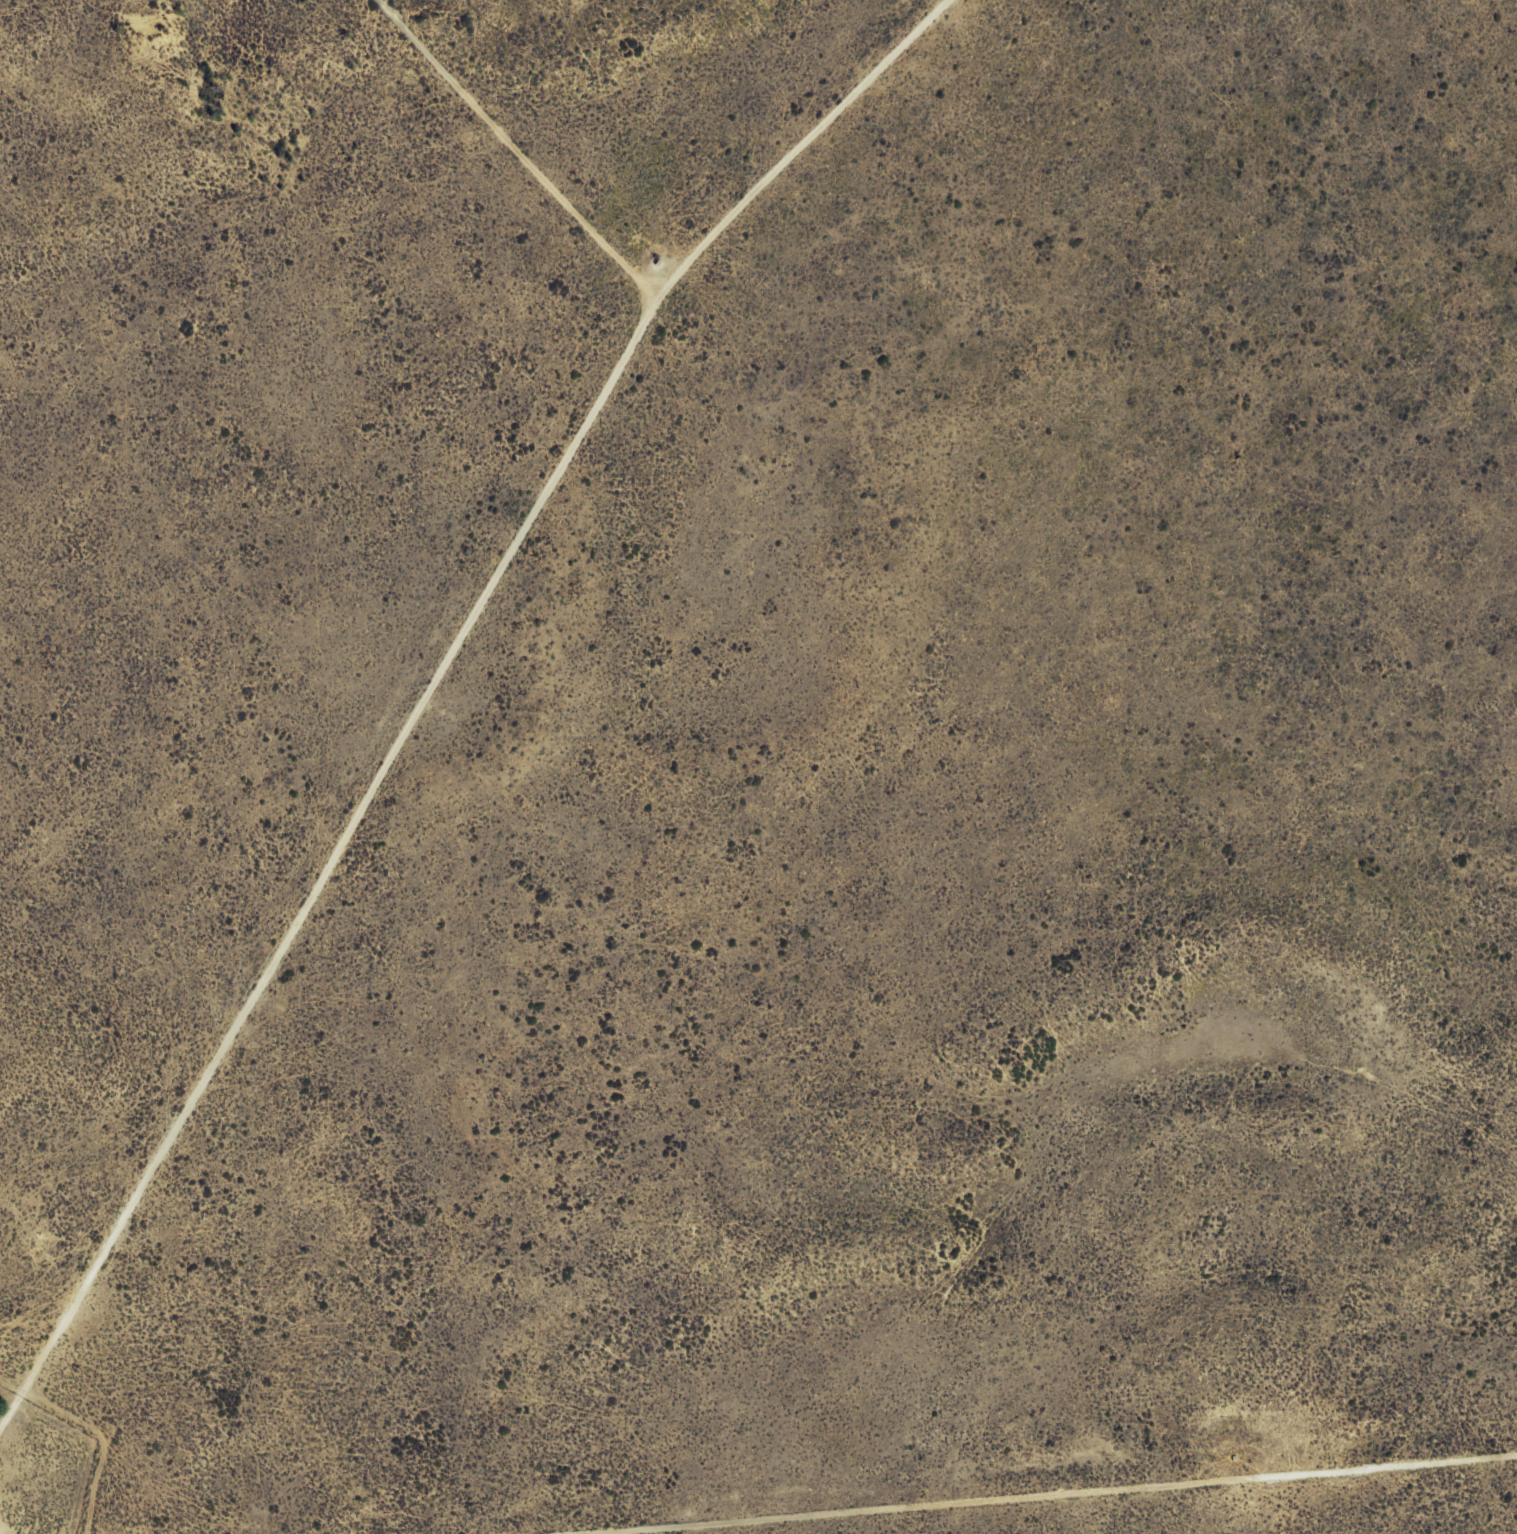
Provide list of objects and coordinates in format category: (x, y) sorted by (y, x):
road: (842, 142)
road: (451, 719)

